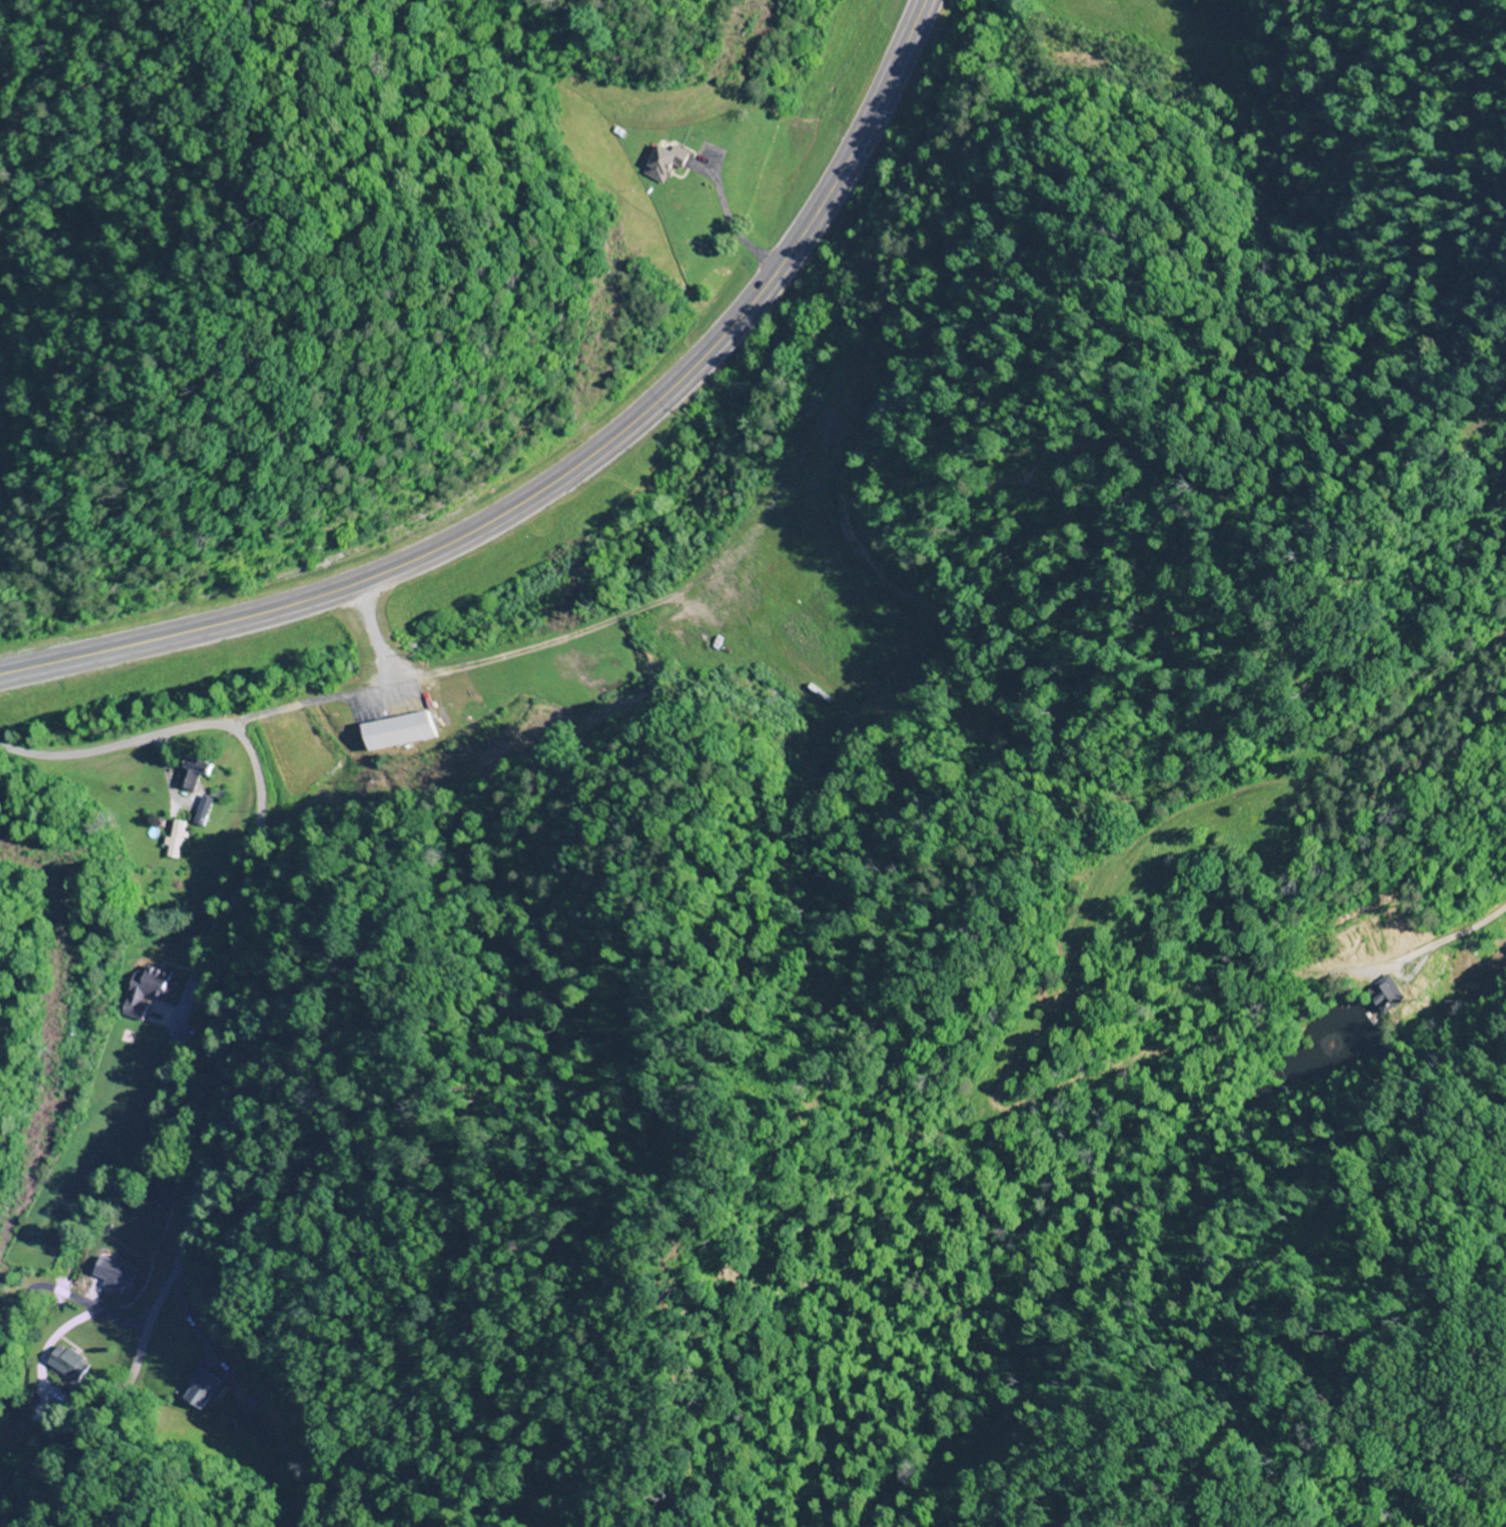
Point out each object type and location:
building: (665, 165)
road: (570, 478)
building: (395, 732)
road: (244, 742)
building: (194, 773)
building: (205, 810)
building: (175, 839)
building: (148, 992)
building: (111, 1274)
road: (169, 1277)
building: (66, 1363)
building: (198, 1389)

